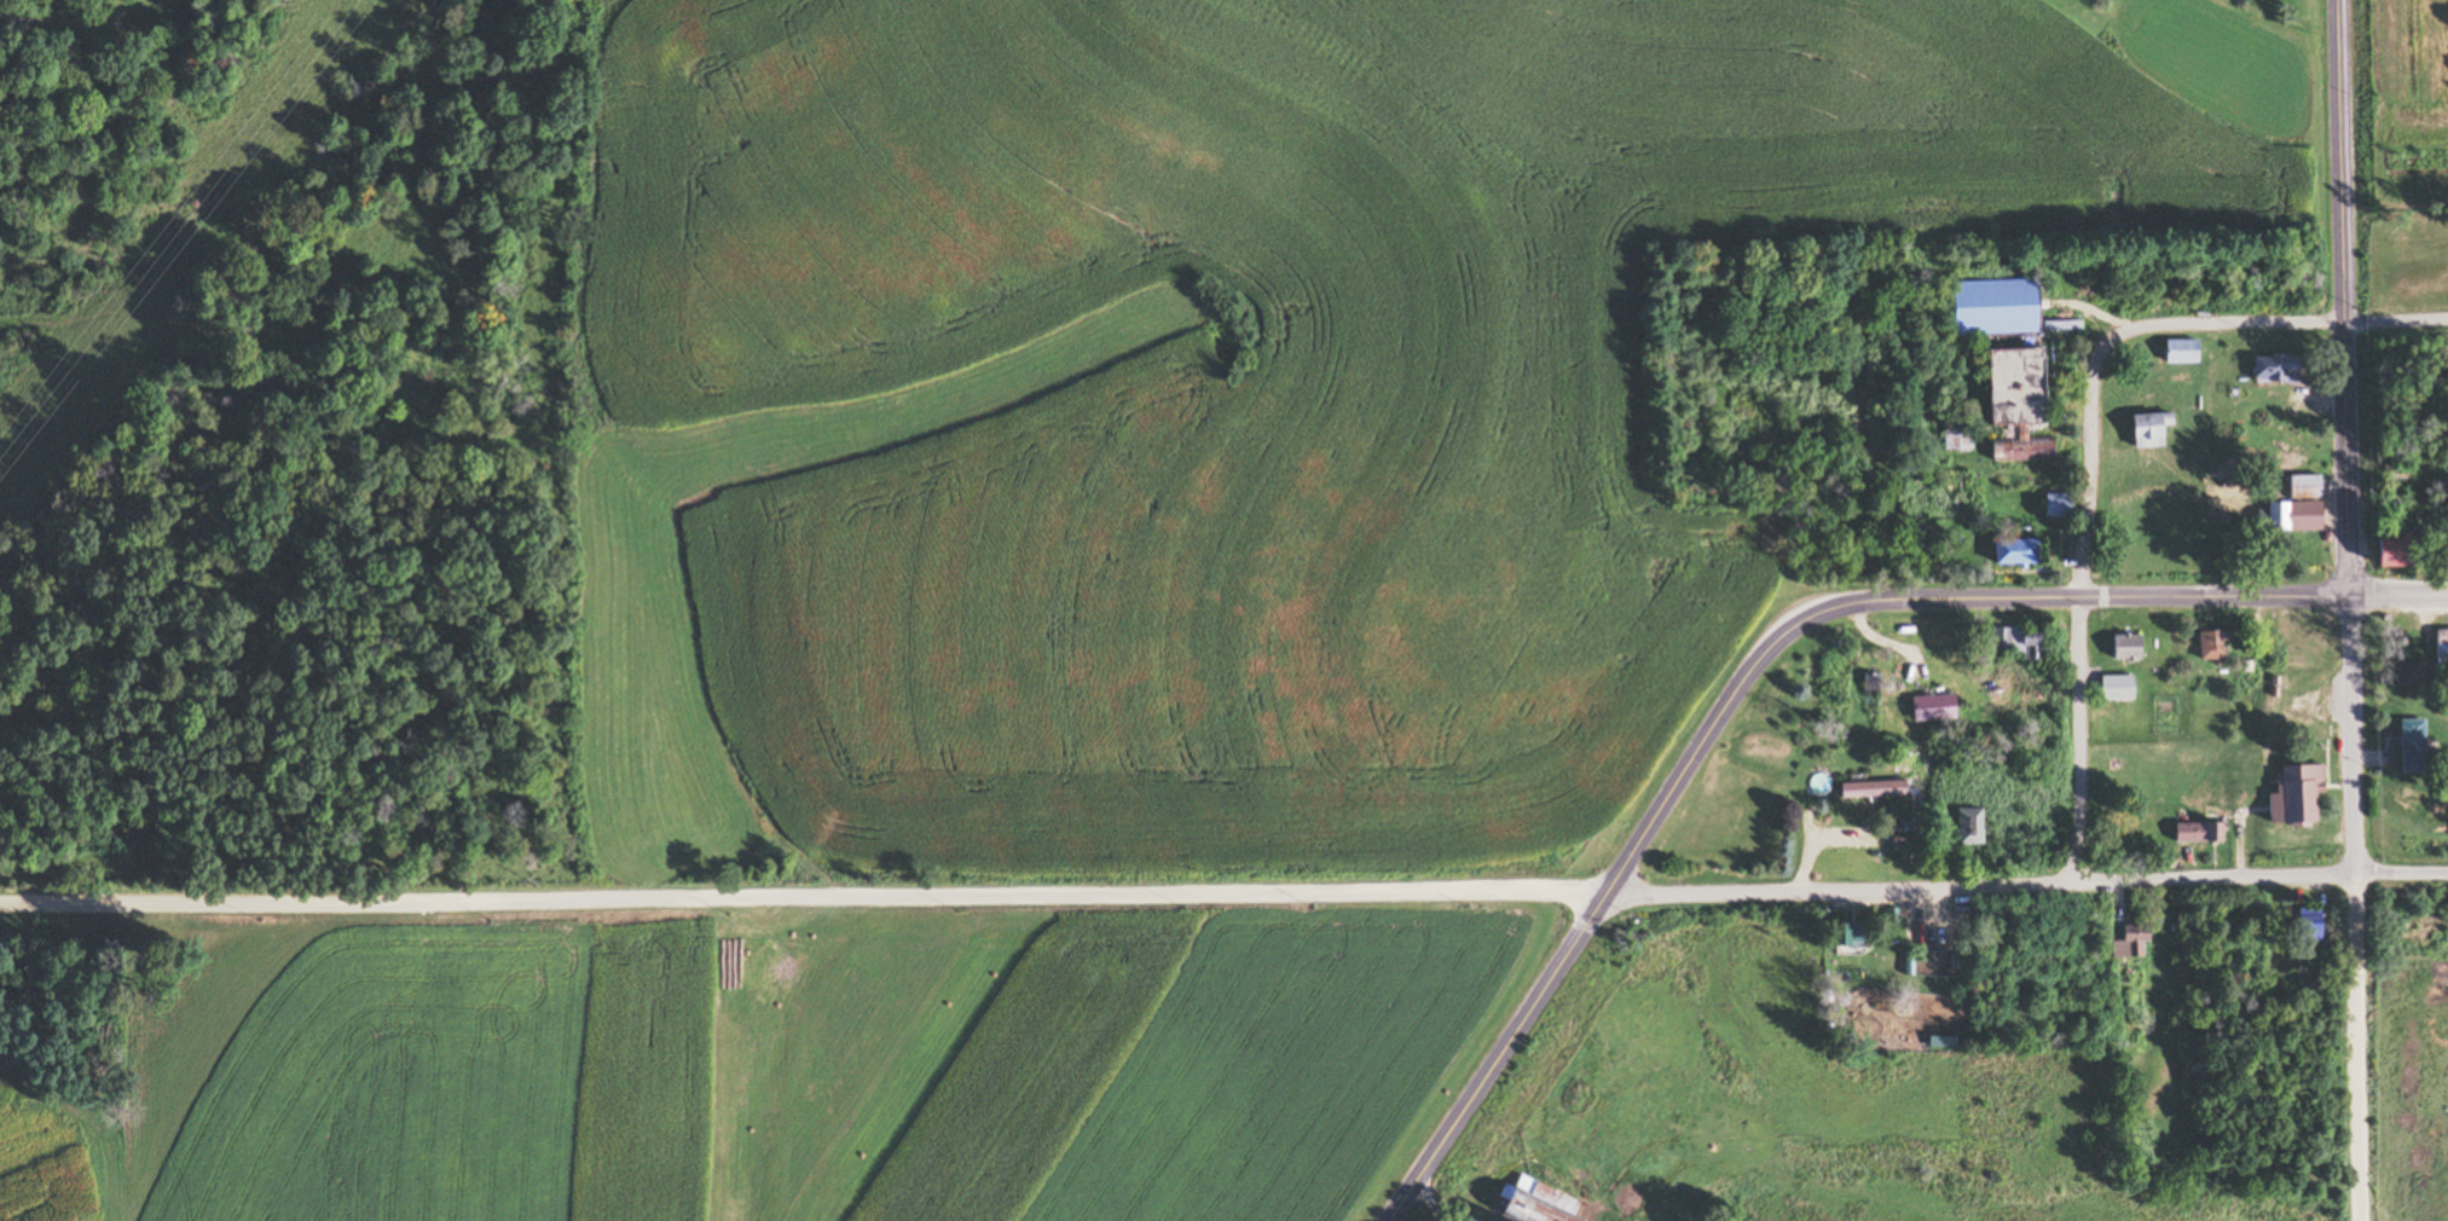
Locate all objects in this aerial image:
road: (2342, 297)
building: (1987, 307)
road: (2149, 326)
building: (2178, 352)
building: (2272, 368)
crop: (1238, 390)
building: (2267, 395)
building: (2009, 404)
building: (2145, 429)
building: (2278, 438)
building: (1955, 439)
building: (2302, 486)
building: (2054, 504)
building: (2291, 516)
building: (2007, 552)
building: (2384, 552)
road: (2398, 594)
building: (2016, 643)
building: (2123, 647)
building: (2210, 647)
building: (2440, 648)
building: (2407, 676)
road: (1736, 679)
building: (1869, 683)
building: (2112, 687)
road: (2076, 737)
road: (2351, 737)
building: (2408, 746)
building: (1870, 788)
building: (2292, 794)
building: (1962, 827)
building: (2194, 832)
road: (1223, 893)
building: (2303, 925)
building: (1839, 937)
building: (2126, 943)
building: (2153, 1046)
road: (2354, 1051)
crop: (822, 1065)
crop: (39, 1159)
building: (1533, 1202)

